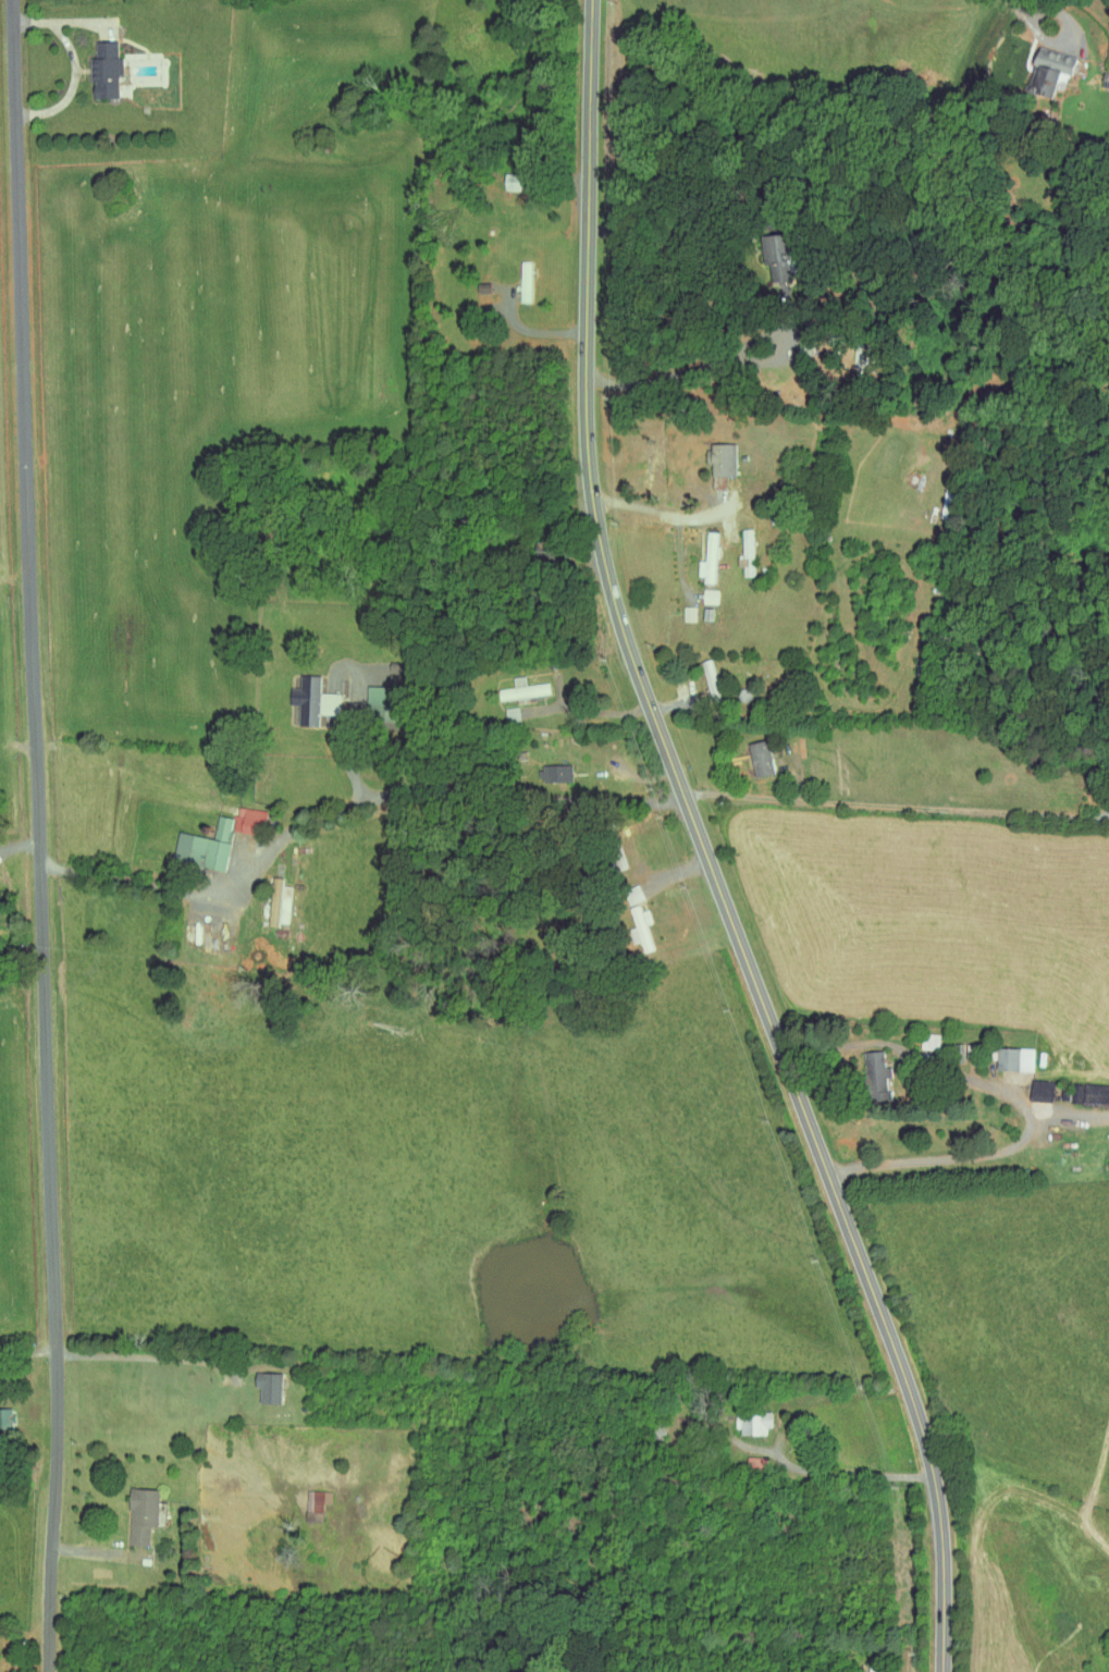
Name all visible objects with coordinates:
road: (1040, 13)
road: (73, 66)
building: (103, 70)
building: (1044, 71)
road: (678, 214)
building: (523, 281)
road: (531, 331)
road: (699, 368)
building: (722, 463)
road: (669, 511)
building: (746, 551)
building: (707, 558)
building: (710, 597)
building: (688, 613)
building: (521, 689)
building: (311, 700)
road: (592, 711)
road: (346, 749)
building: (759, 757)
building: (554, 773)
road: (349, 803)
road: (898, 803)
building: (246, 820)
road: (39, 836)
building: (204, 847)
road: (705, 847)
road: (676, 869)
building: (278, 899)
building: (640, 927)
building: (1012, 1058)
building: (874, 1073)
building: (1039, 1089)
building: (1088, 1092)
road: (1018, 1101)
road: (147, 1354)
building: (267, 1387)
building: (5, 1419)
building: (750, 1423)
road: (826, 1473)
building: (316, 1504)
building: (140, 1514)

